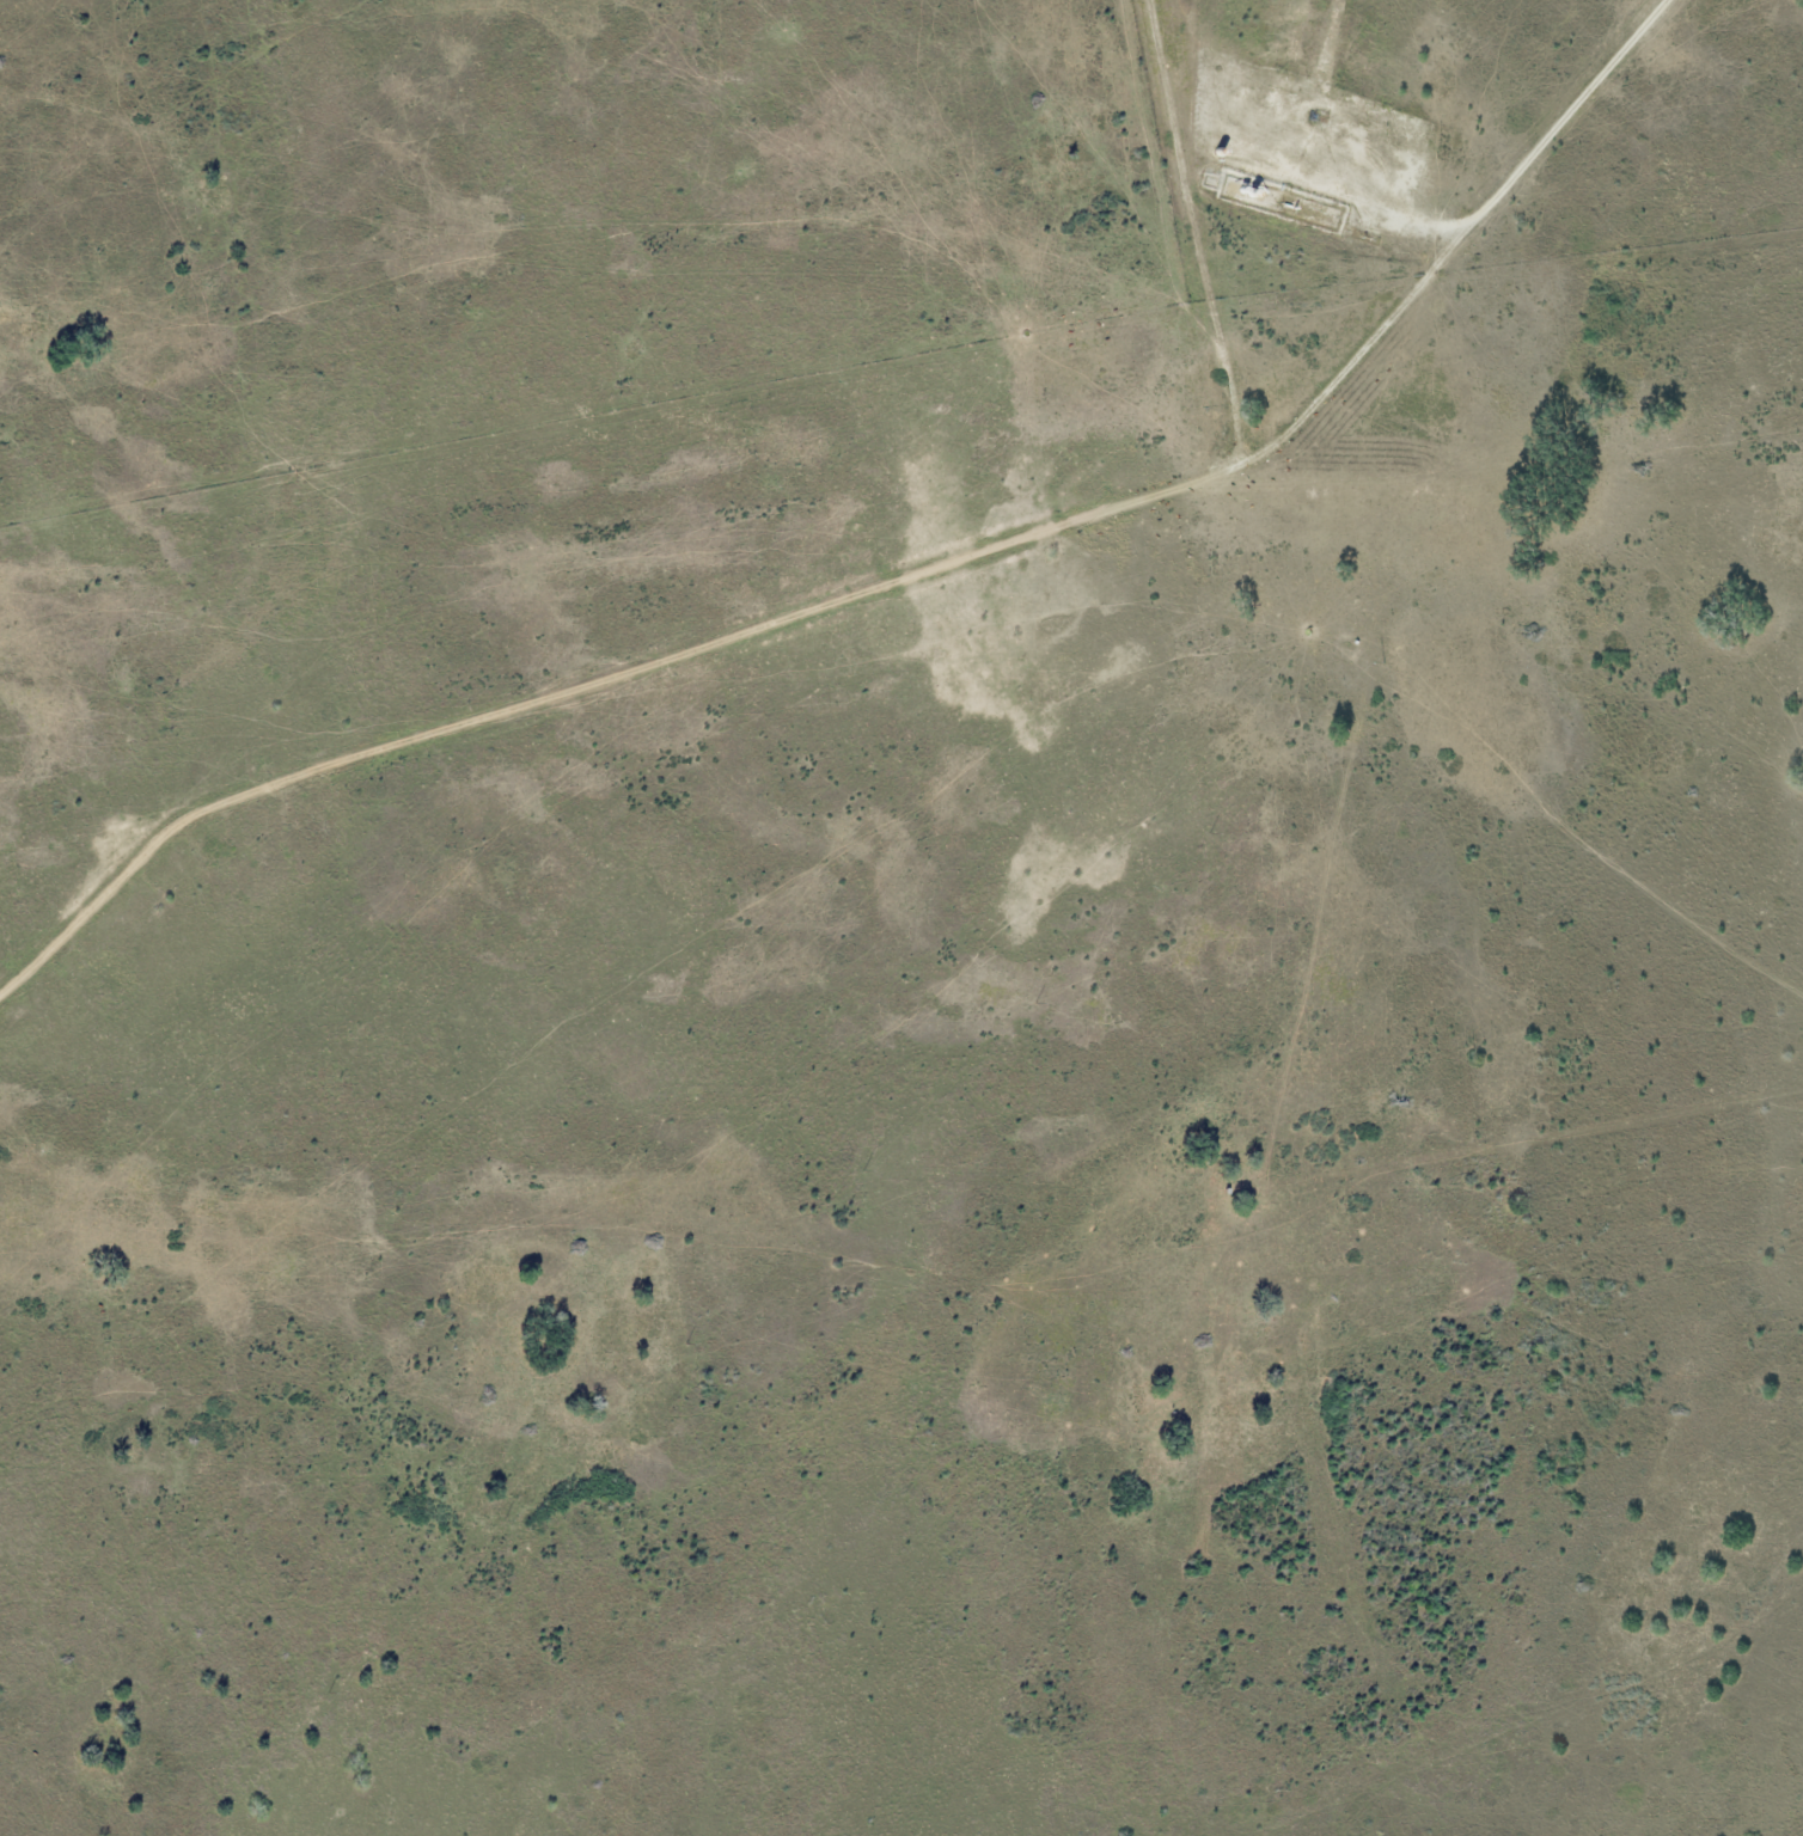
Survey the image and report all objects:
road: (903, 551)

